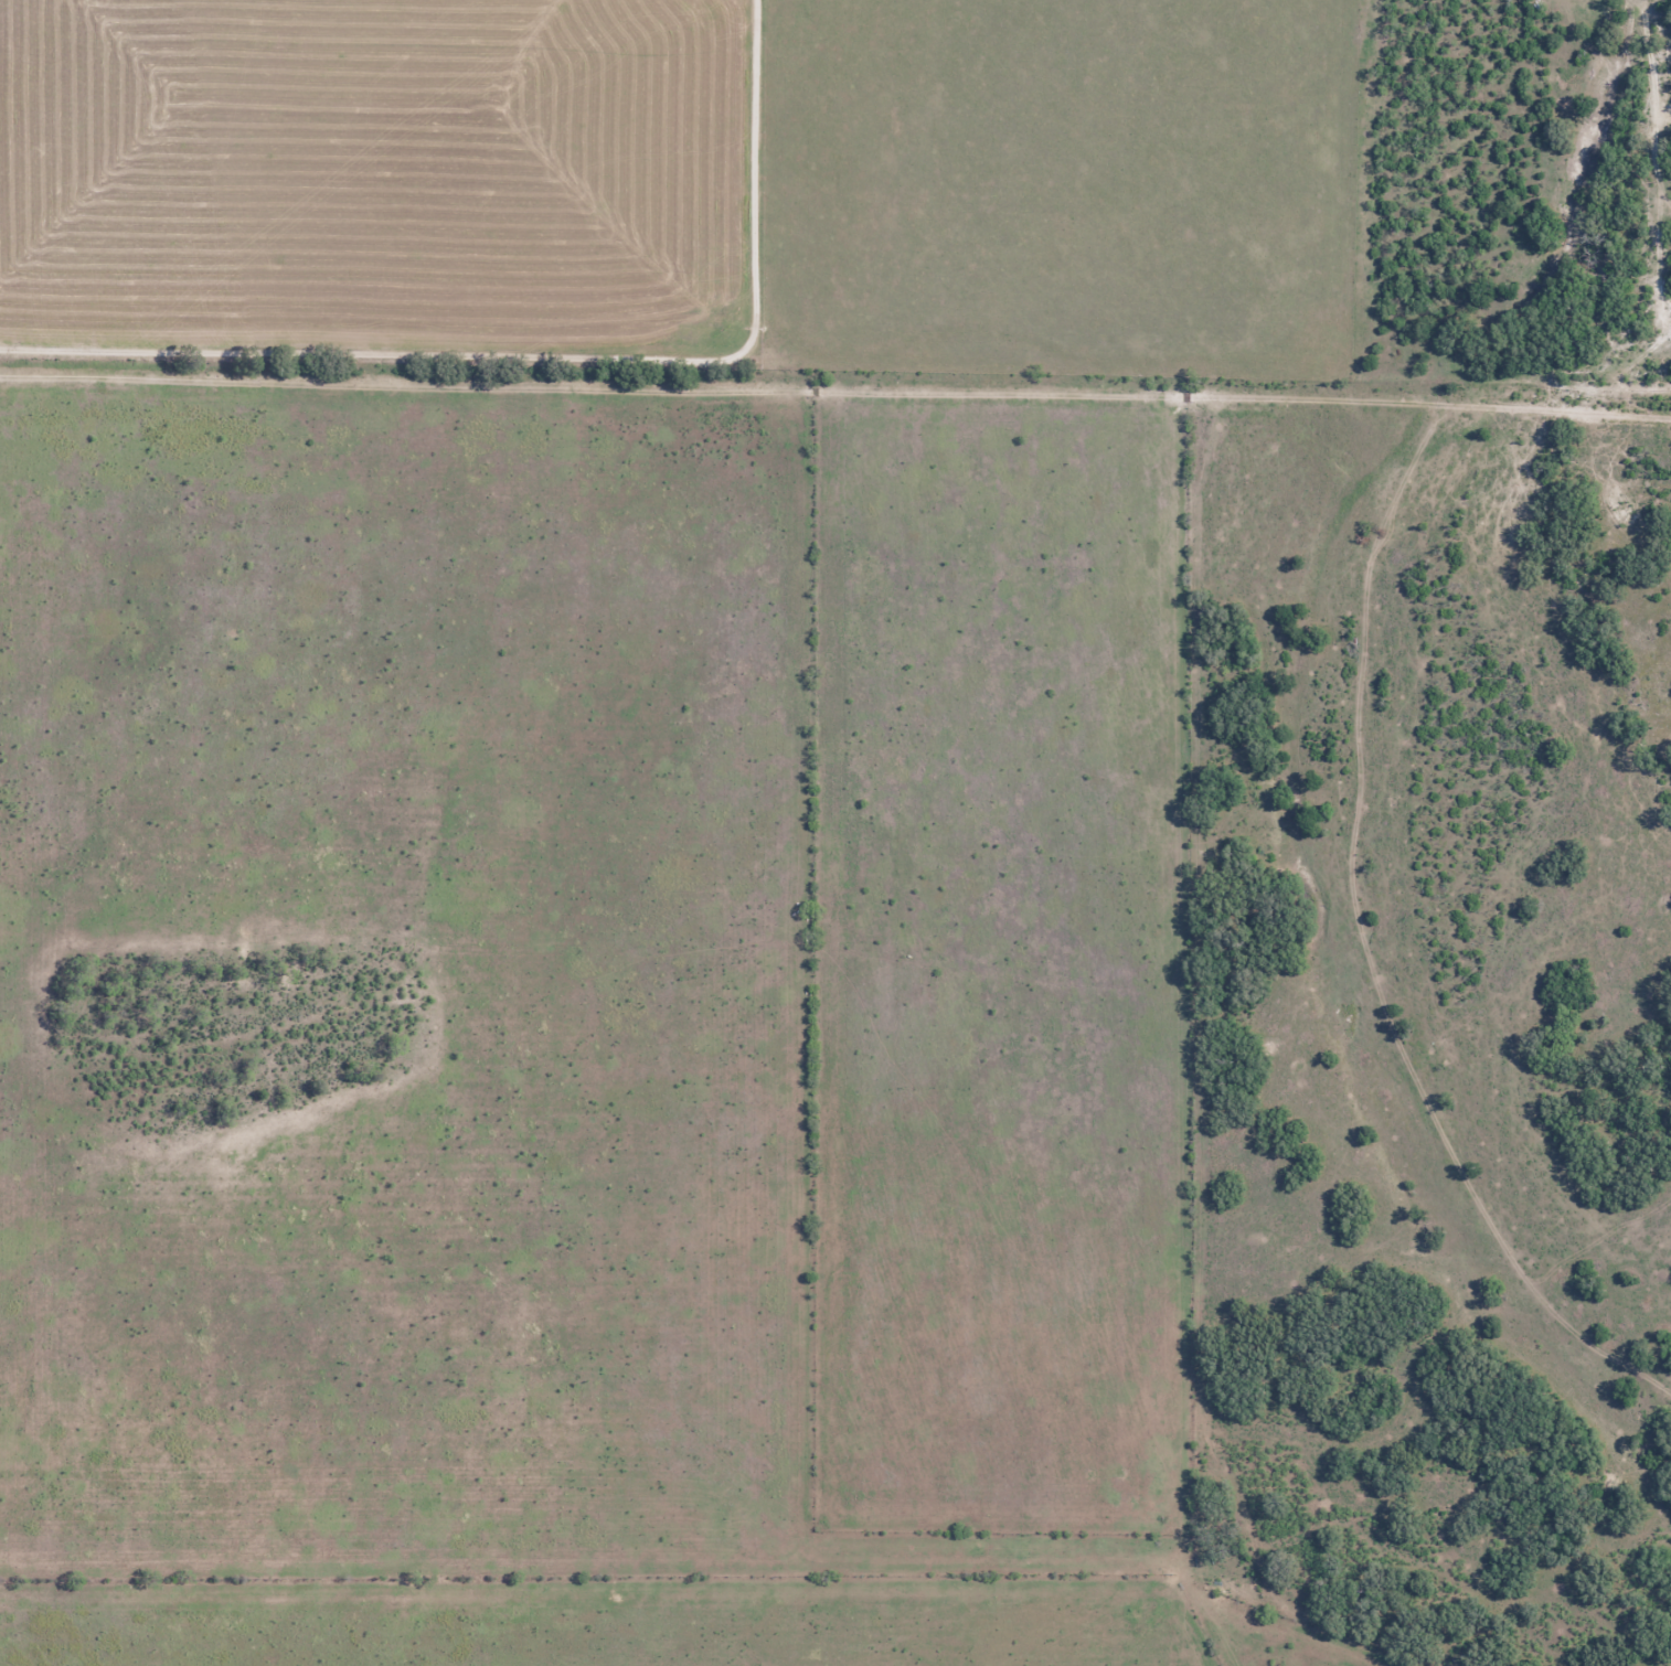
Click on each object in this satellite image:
road: (553, 362)
road: (835, 423)

